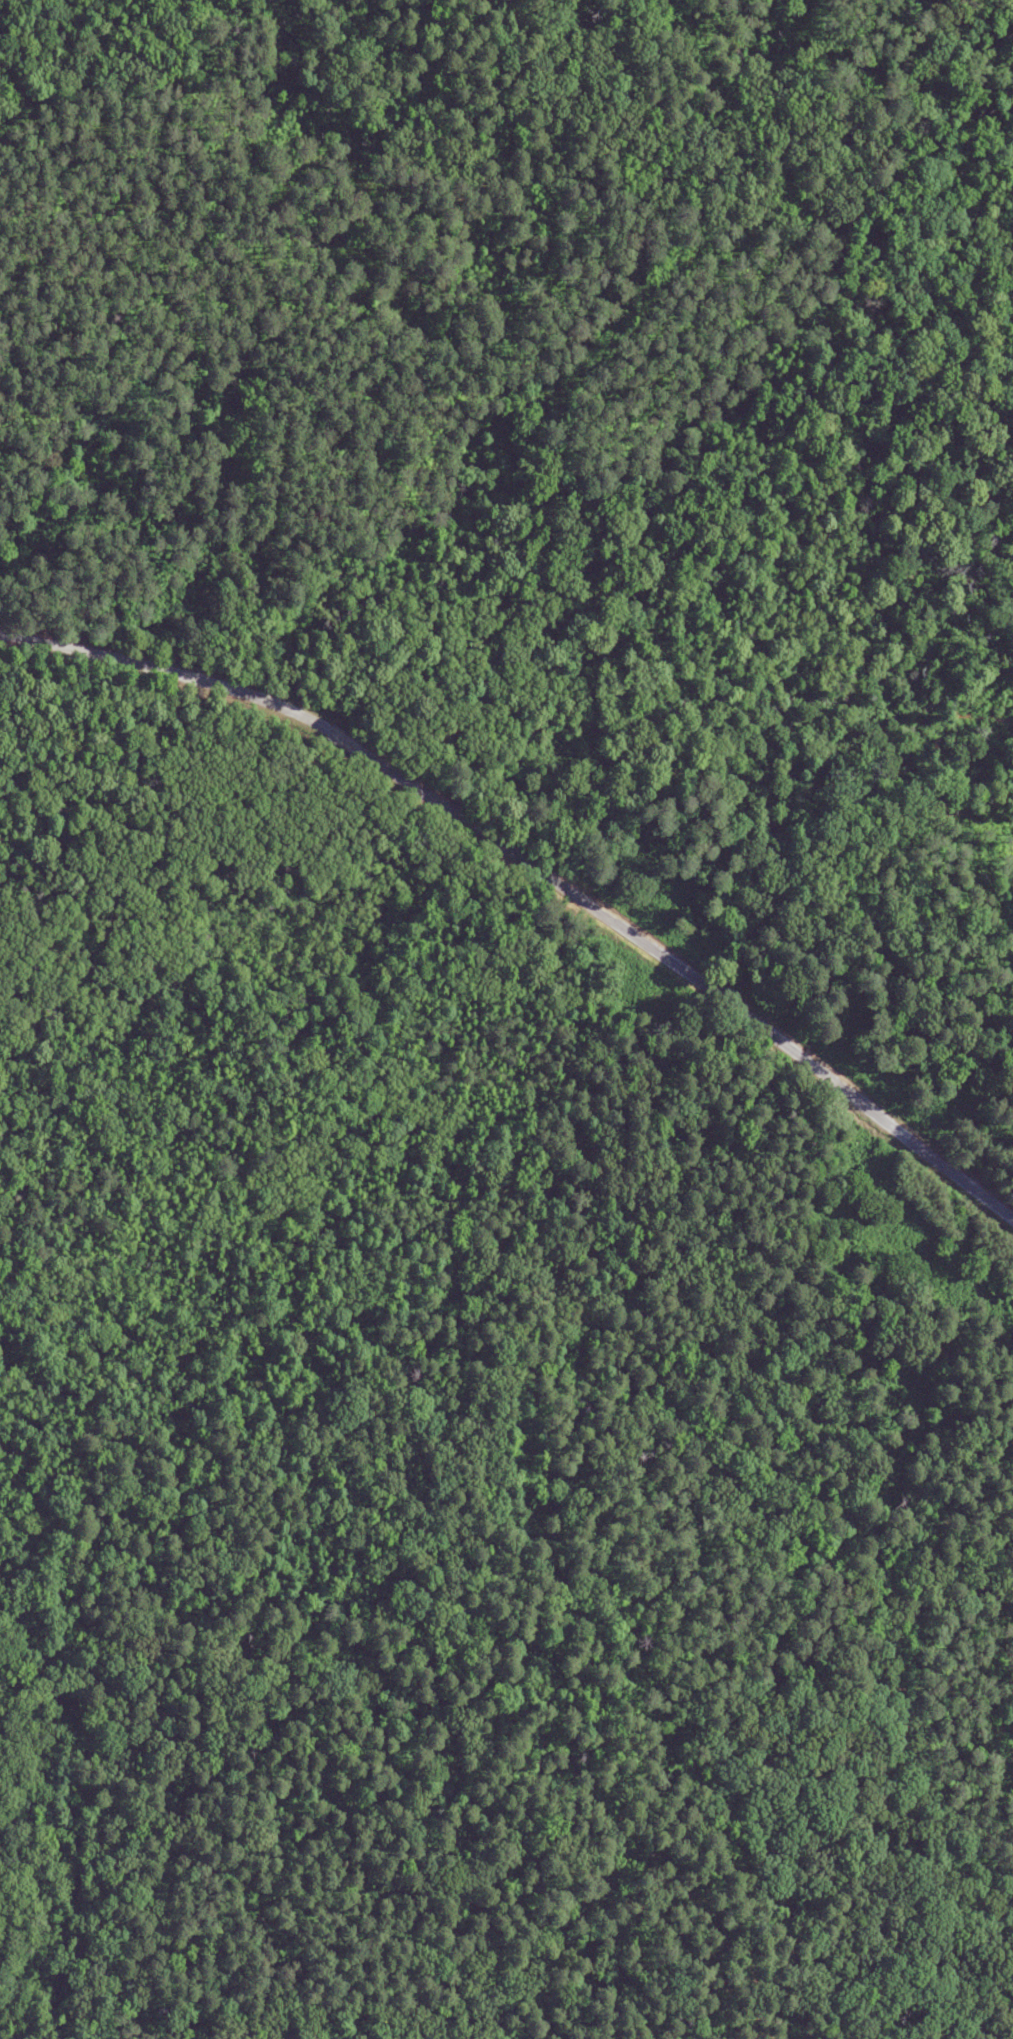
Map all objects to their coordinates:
road: (535, 868)

